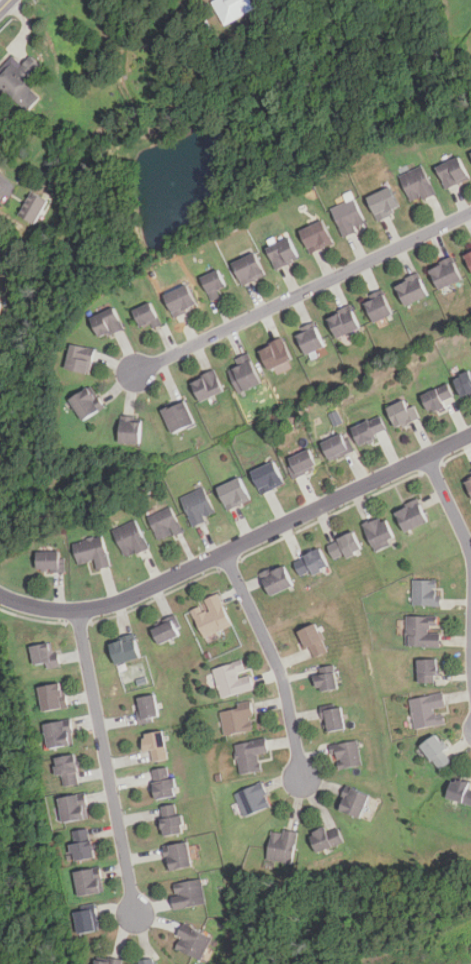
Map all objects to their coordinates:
road: (4, 4)
building: (235, 7)
building: (19, 81)
building: (469, 155)
building: (452, 172)
road: (1, 176)
building: (416, 184)
building: (383, 203)
building: (33, 208)
building: (349, 218)
building: (317, 237)
building: (283, 254)
building: (468, 257)
building: (249, 269)
building: (445, 274)
building: (213, 282)
building: (412, 290)
road: (303, 293)
building: (180, 300)
building: (378, 308)
building: (147, 316)
building: (108, 323)
building: (344, 323)
building: (310, 340)
building: (276, 354)
building: (80, 359)
building: (251, 374)
building: (208, 386)
building: (464, 386)
building: (437, 398)
building: (87, 403)
building: (405, 414)
building: (179, 417)
building: (333, 418)
building: (132, 430)
building: (370, 431)
building: (338, 446)
building: (302, 462)
building: (470, 471)
building: (267, 477)
building: (469, 484)
building: (234, 493)
road: (449, 505)
building: (199, 506)
building: (411, 516)
building: (165, 523)
building: (380, 533)
building: (131, 539)
road: (239, 546)
building: (346, 546)
building: (92, 552)
building: (50, 561)
building: (313, 562)
building: (277, 580)
building: (426, 592)
building: (213, 619)
building: (167, 630)
building: (423, 631)
building: (314, 642)
building: (125, 649)
building: (45, 654)
road: (274, 662)
building: (428, 671)
building: (326, 678)
building: (233, 679)
building: (52, 695)
building: (148, 705)
building: (427, 710)
building: (334, 718)
building: (238, 719)
building: (60, 733)
building: (155, 744)
building: (347, 753)
building: (437, 753)
building: (250, 754)
road: (106, 764)
building: (68, 768)
building: (163, 782)
building: (460, 792)
building: (253, 798)
building: (354, 801)
building: (74, 807)
building: (170, 819)
building: (326, 838)
building: (82, 844)
building: (282, 846)
building: (178, 856)
building: (89, 881)
building: (188, 894)
building: (86, 921)
building: (192, 942)
building: (107, 960)
building: (143, 962)

